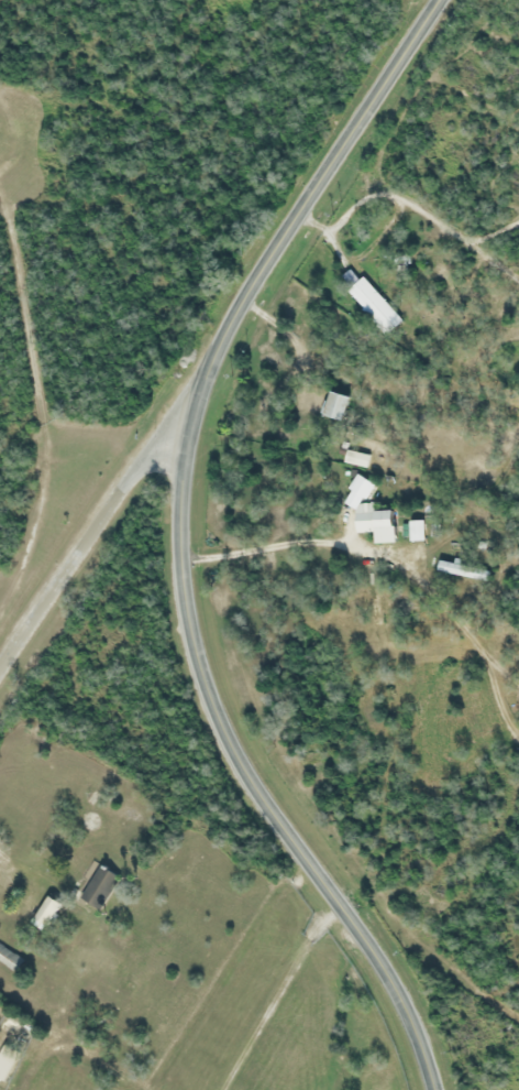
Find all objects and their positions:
park: (235, 64)
road: (409, 198)
road: (496, 230)
building: (373, 307)
building: (334, 406)
building: (366, 509)
road: (97, 521)
road: (176, 545)
building: (97, 885)
building: (45, 914)
building: (9, 960)
road: (278, 995)
building: (7, 1060)

